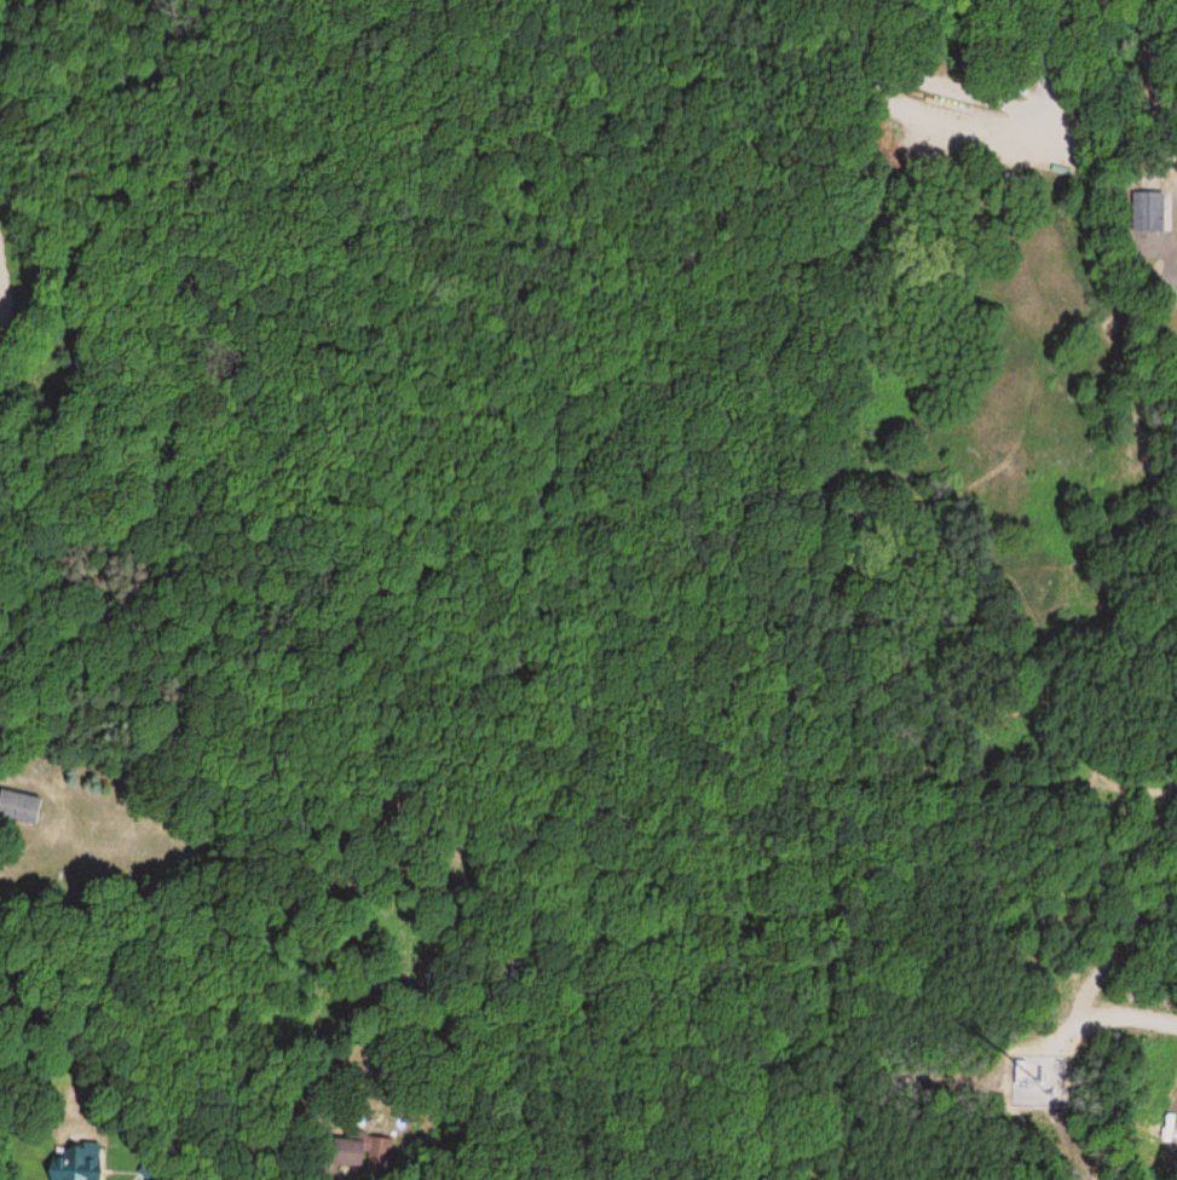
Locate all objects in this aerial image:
building: (1146, 208)
building: (17, 806)
building: (357, 1151)
building: (71, 1165)

